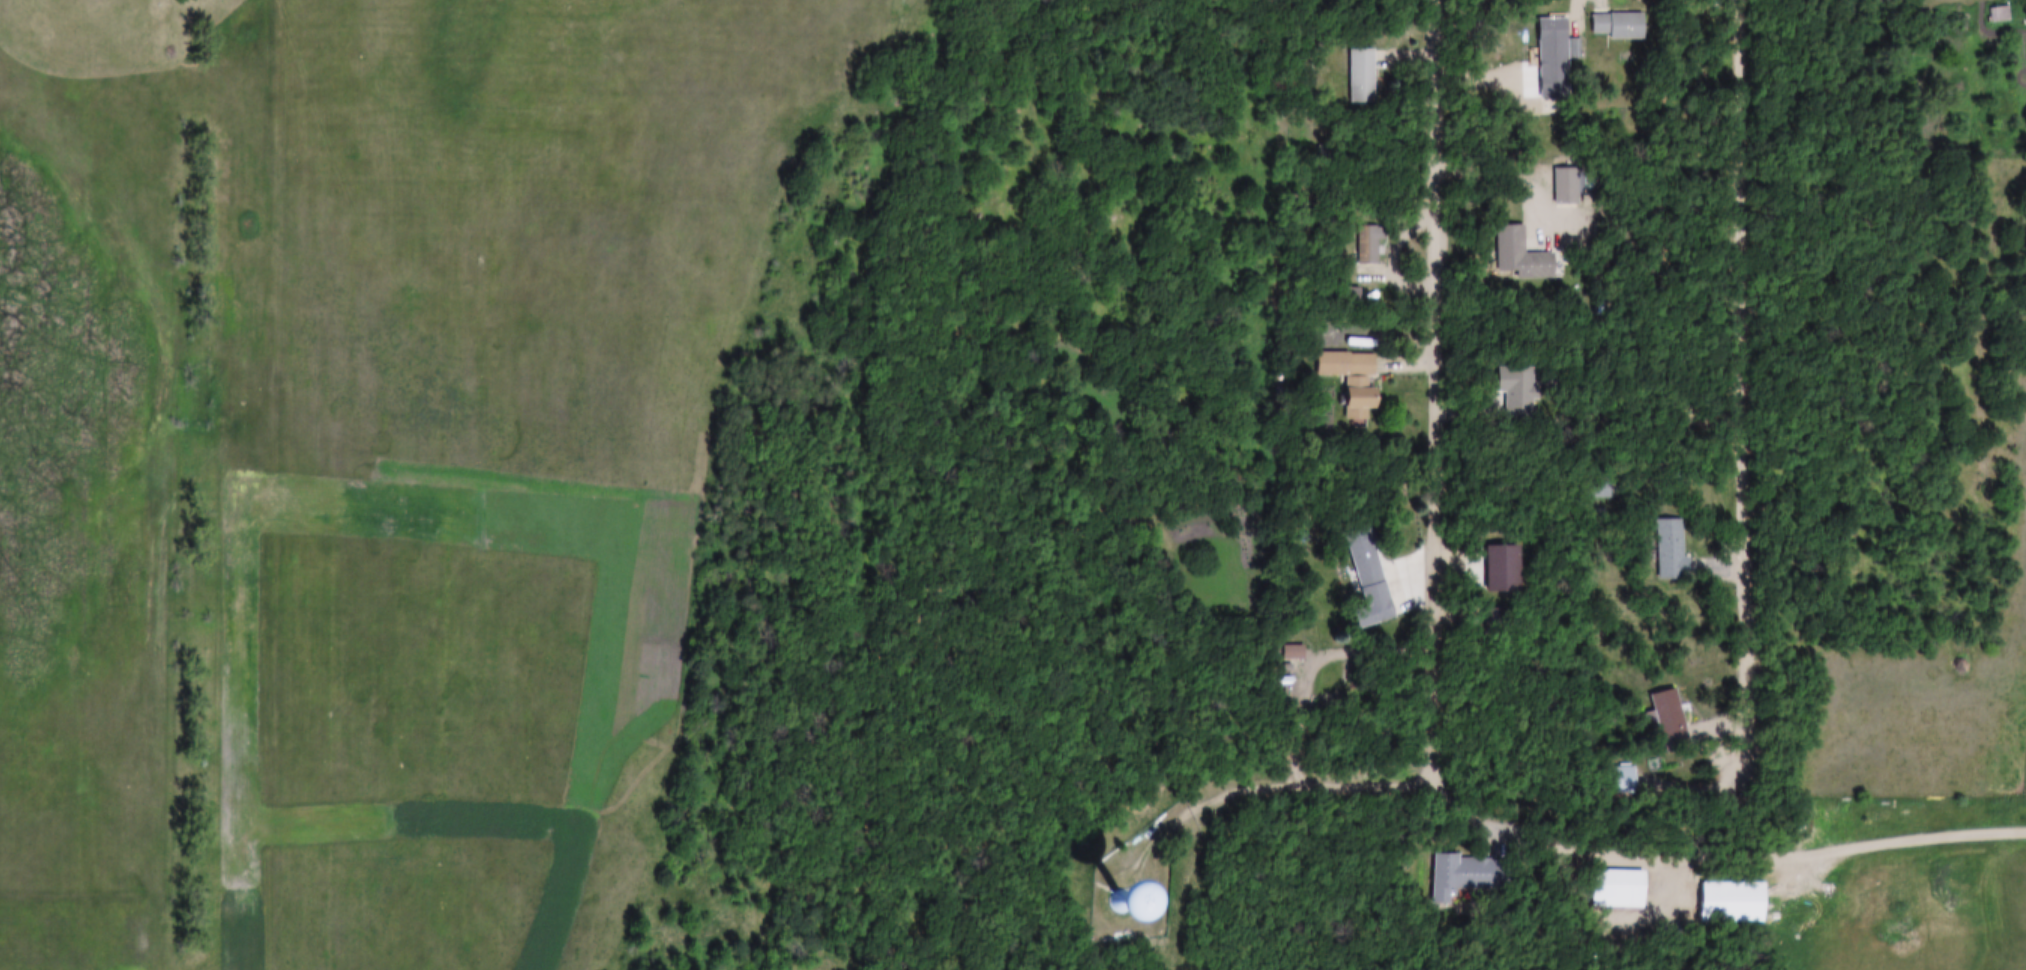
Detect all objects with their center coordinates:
building: (1999, 14)
road: (1584, 18)
building: (1620, 26)
building: (1557, 36)
building: (1363, 77)
building: (1530, 109)
building: (1568, 187)
building: (1368, 246)
building: (1522, 256)
road: (1748, 367)
building: (1355, 382)
road: (1438, 388)
building: (1521, 392)
building: (1672, 548)
building: (1365, 560)
building: (1295, 653)
building: (1672, 722)
building: (1626, 781)
road: (1251, 791)
road: (1902, 837)
building: (1472, 876)
building: (1622, 889)
water tower: (1110, 898)
building: (1734, 903)
building: (1128, 909)

